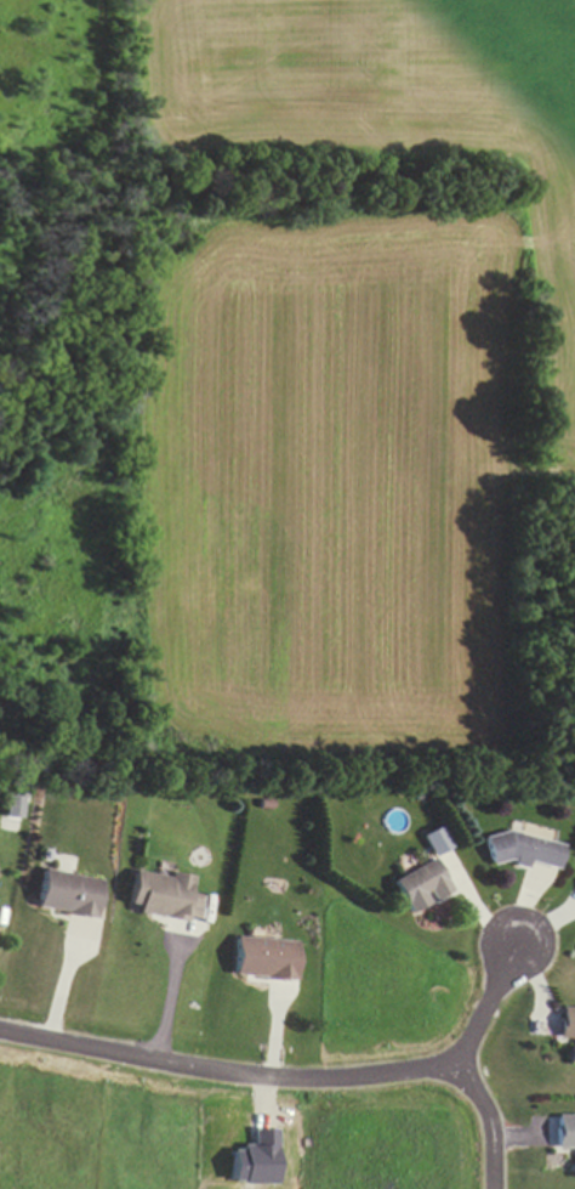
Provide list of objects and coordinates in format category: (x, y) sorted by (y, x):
building: (524, 851)
building: (420, 888)
building: (68, 895)
building: (164, 896)
building: (266, 959)
road: (485, 1012)
building: (568, 1031)
road: (287, 1080)
building: (565, 1133)

